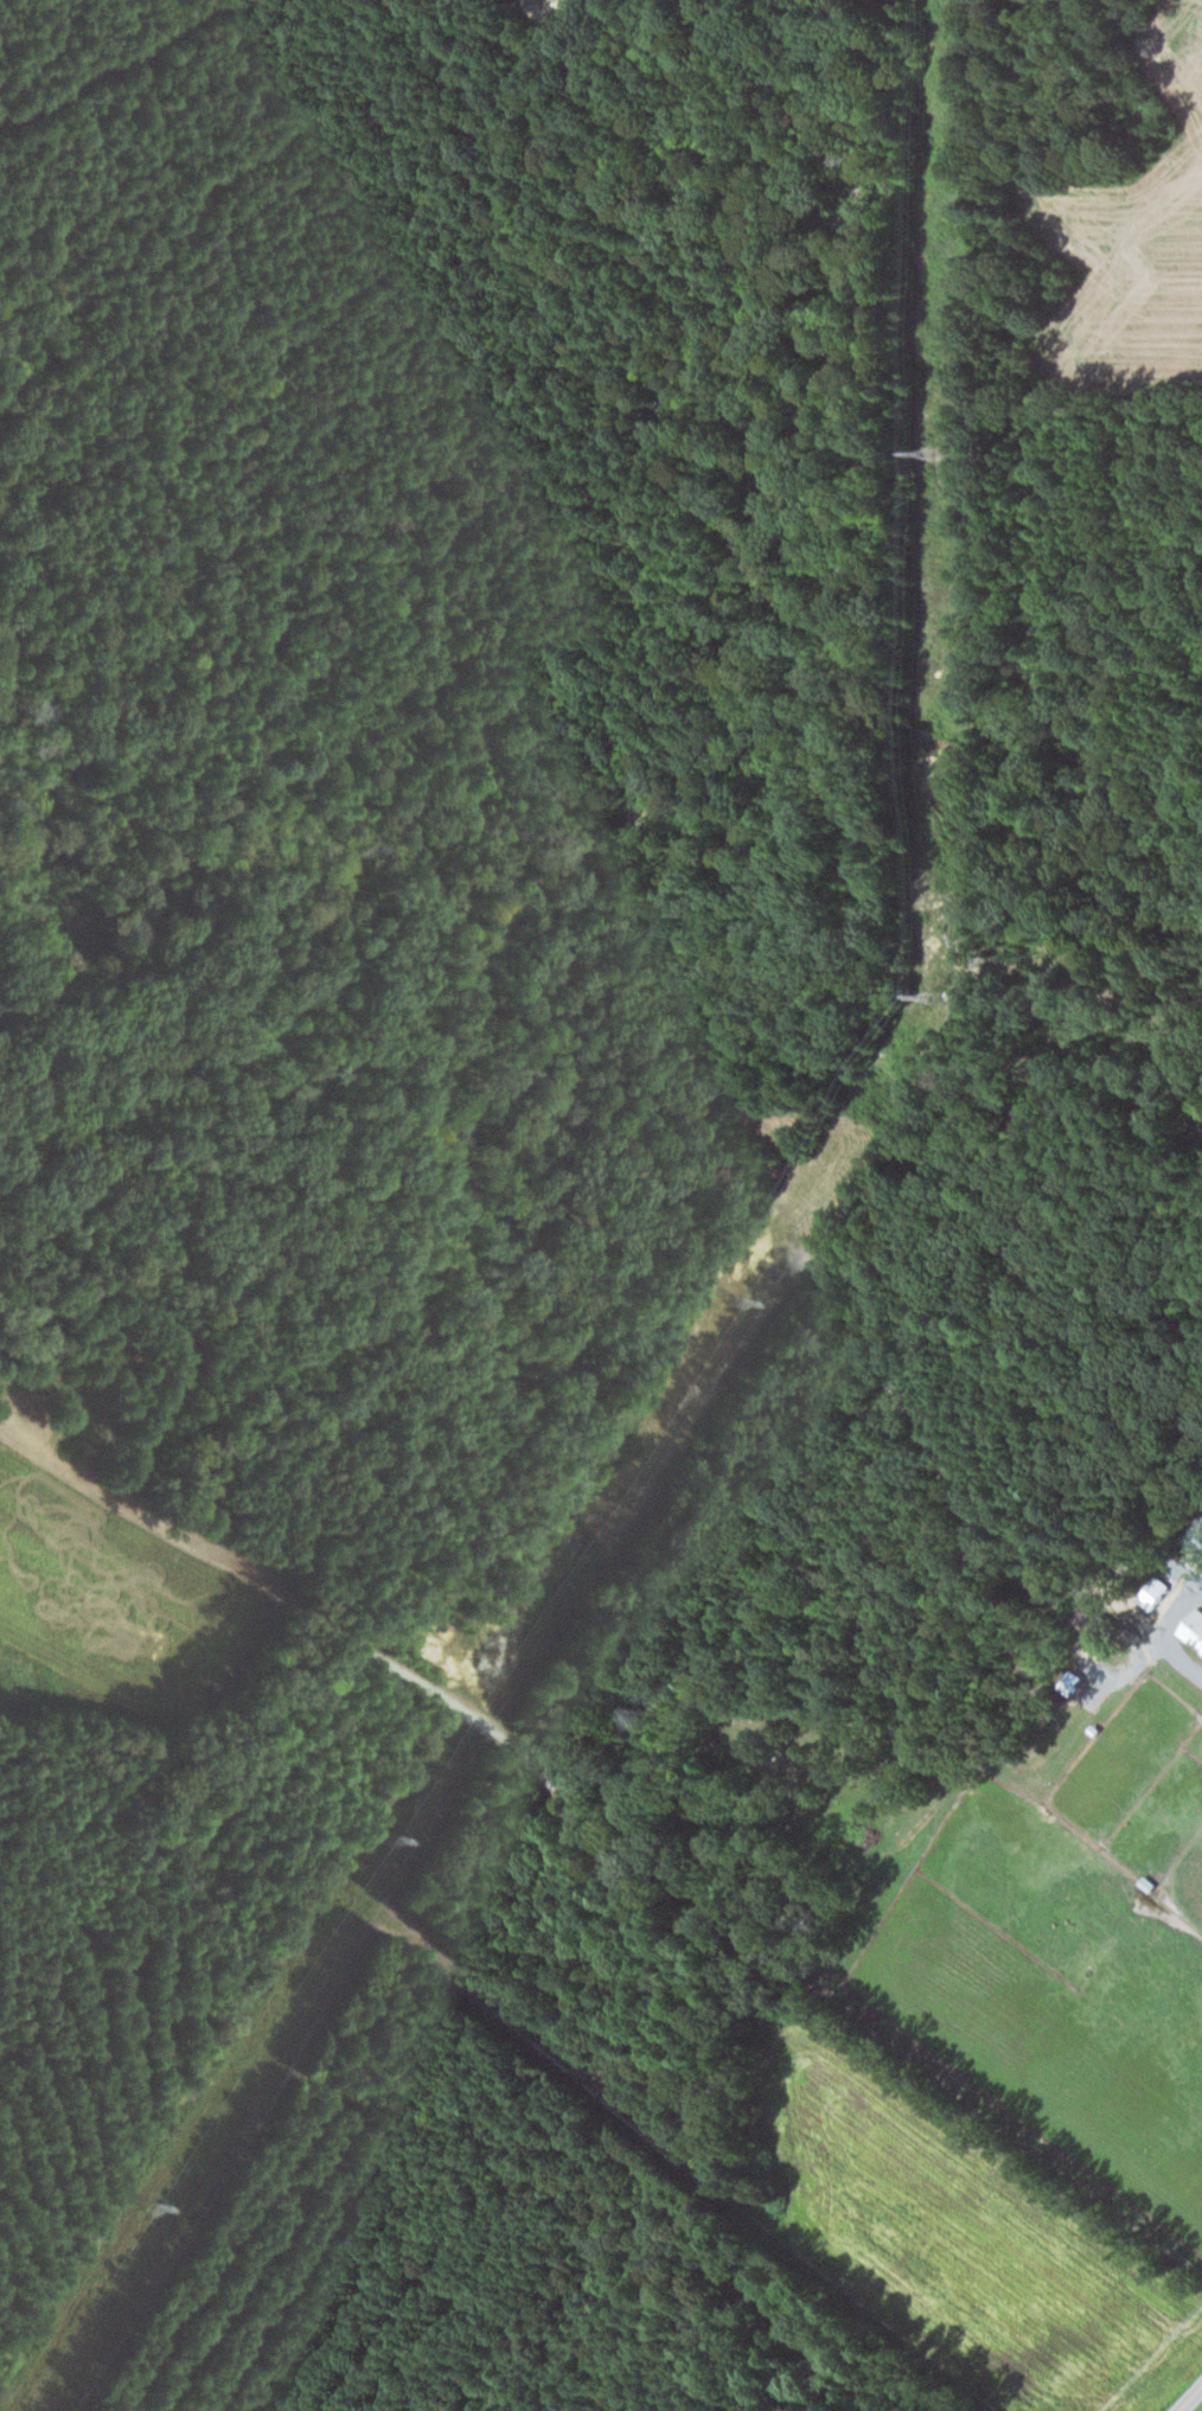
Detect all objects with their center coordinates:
power tower: (940, 453)
power tower: (932, 1003)
power tower: (741, 1303)
building: (1194, 1629)
road: (1165, 1632)
building: (1073, 1681)
power tower: (389, 1837)
power tower: (155, 2208)
road: (1191, 2399)

